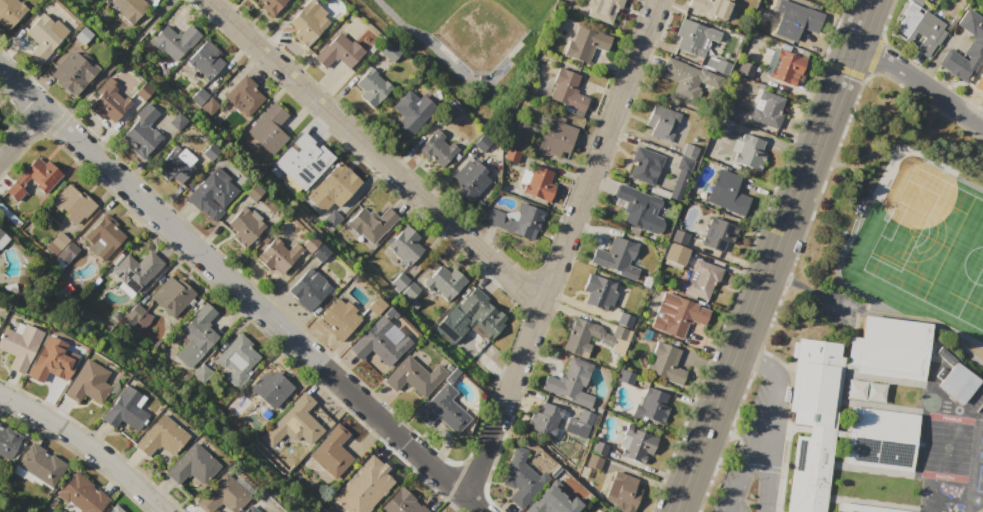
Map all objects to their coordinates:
building: (922, 3)
building: (271, 6)
building: (710, 7)
building: (130, 9)
building: (603, 10)
building: (10, 12)
building: (795, 19)
building: (306, 23)
park: (473, 26)
building: (921, 28)
building: (82, 35)
building: (45, 36)
building: (693, 37)
building: (176, 41)
building: (584, 44)
building: (966, 48)
building: (388, 50)
building: (339, 51)
building: (206, 60)
building: (717, 65)
building: (787, 68)
building: (746, 69)
building: (74, 71)
building: (691, 83)
road: (919, 83)
building: (979, 83)
building: (372, 87)
building: (567, 90)
building: (143, 91)
building: (244, 95)
building: (199, 96)
building: (107, 101)
building: (210, 107)
building: (767, 110)
building: (448, 111)
building: (730, 111)
building: (410, 113)
building: (177, 121)
building: (226, 121)
building: (661, 123)
building: (724, 124)
building: (269, 129)
building: (141, 132)
road: (21, 134)
building: (517, 134)
building: (556, 137)
building: (481, 143)
building: (435, 148)
building: (688, 151)
building: (210, 152)
building: (749, 152)
road: (372, 154)
building: (511, 155)
building: (309, 163)
building: (175, 164)
building: (645, 165)
building: (276, 168)
building: (680, 177)
building: (34, 178)
building: (471, 179)
building: (537, 183)
building: (333, 188)
building: (253, 193)
building: (727, 193)
building: (212, 194)
building: (74, 204)
building: (640, 209)
road: (160, 219)
building: (333, 219)
building: (518, 220)
park: (924, 221)
building: (370, 224)
building: (244, 225)
building: (719, 234)
building: (1, 236)
building: (103, 237)
building: (57, 242)
building: (309, 243)
building: (405, 245)
road: (560, 250)
park: (934, 250)
building: (68, 252)
building: (319, 253)
building: (676, 254)
road: (772, 255)
building: (276, 257)
building: (617, 257)
building: (135, 269)
road: (783, 276)
building: (703, 279)
building: (400, 282)
building: (445, 282)
building: (308, 289)
building: (599, 292)
building: (172, 295)
road: (825, 297)
building: (375, 306)
building: (481, 314)
building: (677, 315)
building: (136, 316)
building: (339, 318)
building: (397, 318)
building: (623, 319)
building: (199, 334)
building: (577, 338)
building: (380, 342)
building: (19, 345)
building: (890, 348)
building: (52, 360)
building: (237, 360)
road: (760, 360)
building: (665, 363)
building: (202, 373)
building: (413, 376)
building: (625, 377)
building: (569, 382)
building: (87, 383)
building: (271, 387)
building: (962, 388)
building: (864, 390)
building: (234, 404)
building: (648, 405)
building: (123, 409)
building: (442, 410)
building: (543, 417)
building: (585, 417)
building: (812, 422)
building: (294, 423)
building: (158, 437)
building: (882, 438)
road: (399, 439)
building: (8, 441)
road: (751, 443)
building: (636, 444)
road: (774, 444)
road: (86, 446)
building: (599, 448)
building: (332, 452)
building: (594, 462)
building: (42, 464)
building: (189, 466)
building: (521, 477)
building: (363, 486)
building: (623, 492)
building: (80, 495)
building: (222, 496)
building: (552, 500)
building: (402, 503)
building: (863, 508)
building: (114, 509)
building: (249, 509)
building: (597, 511)

